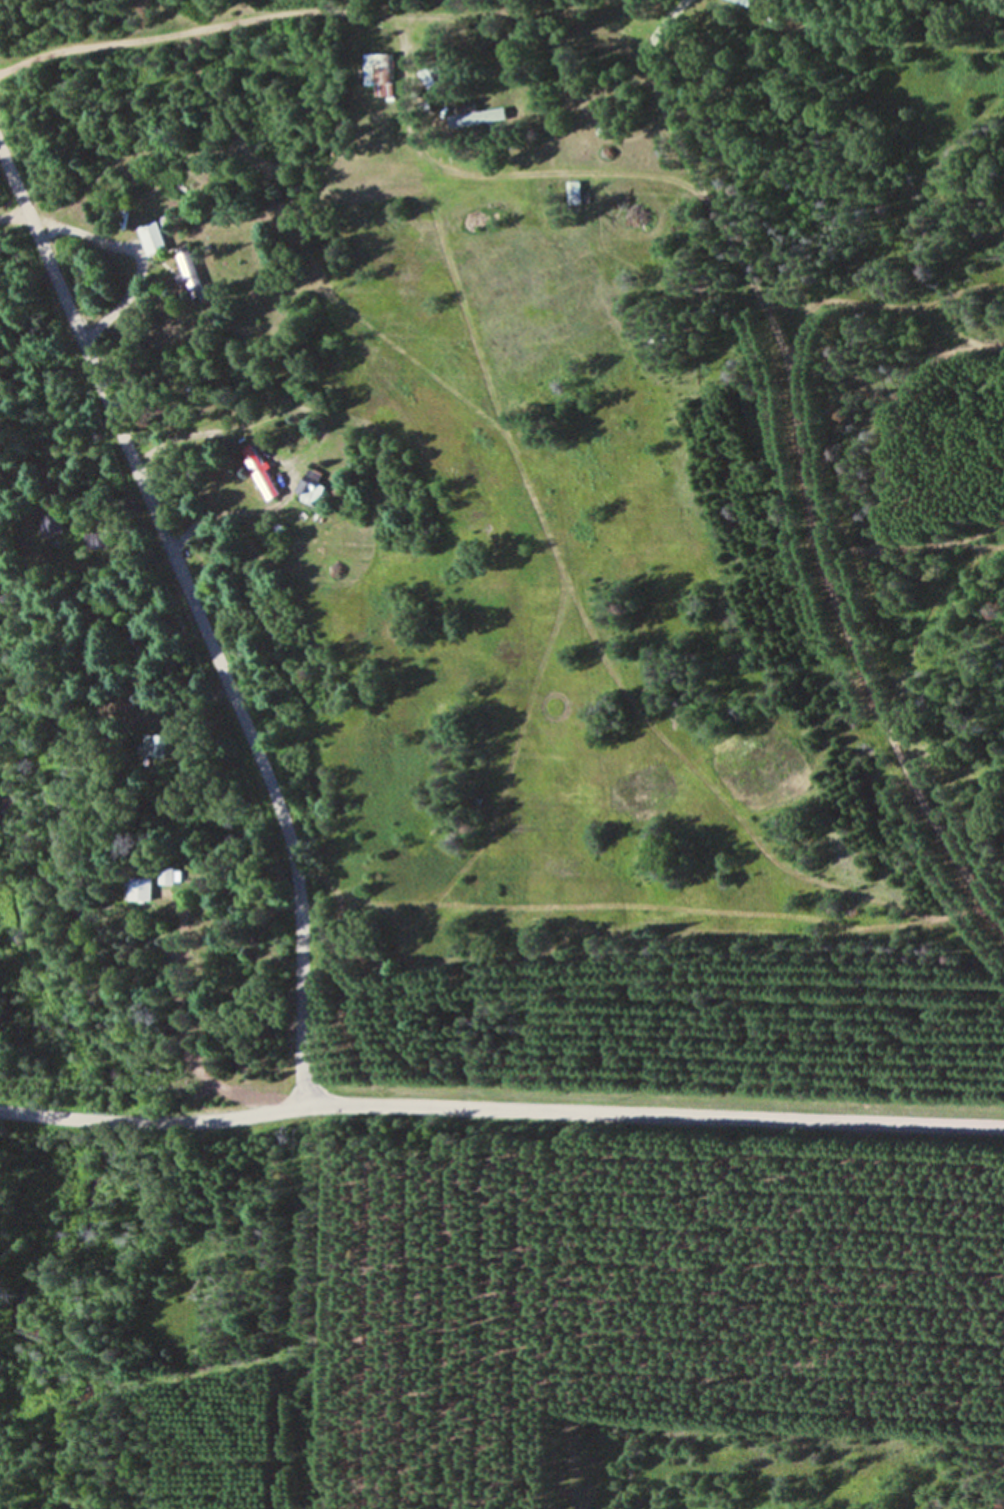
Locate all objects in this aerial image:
road: (589, 23)
building: (380, 74)
building: (474, 117)
road: (692, 190)
building: (577, 194)
building: (153, 240)
road: (136, 256)
building: (190, 273)
building: (262, 473)
building: (313, 487)
building: (53, 521)
building: (96, 541)
road: (197, 620)
building: (157, 747)
building: (170, 875)
building: (141, 889)
road: (501, 1110)

